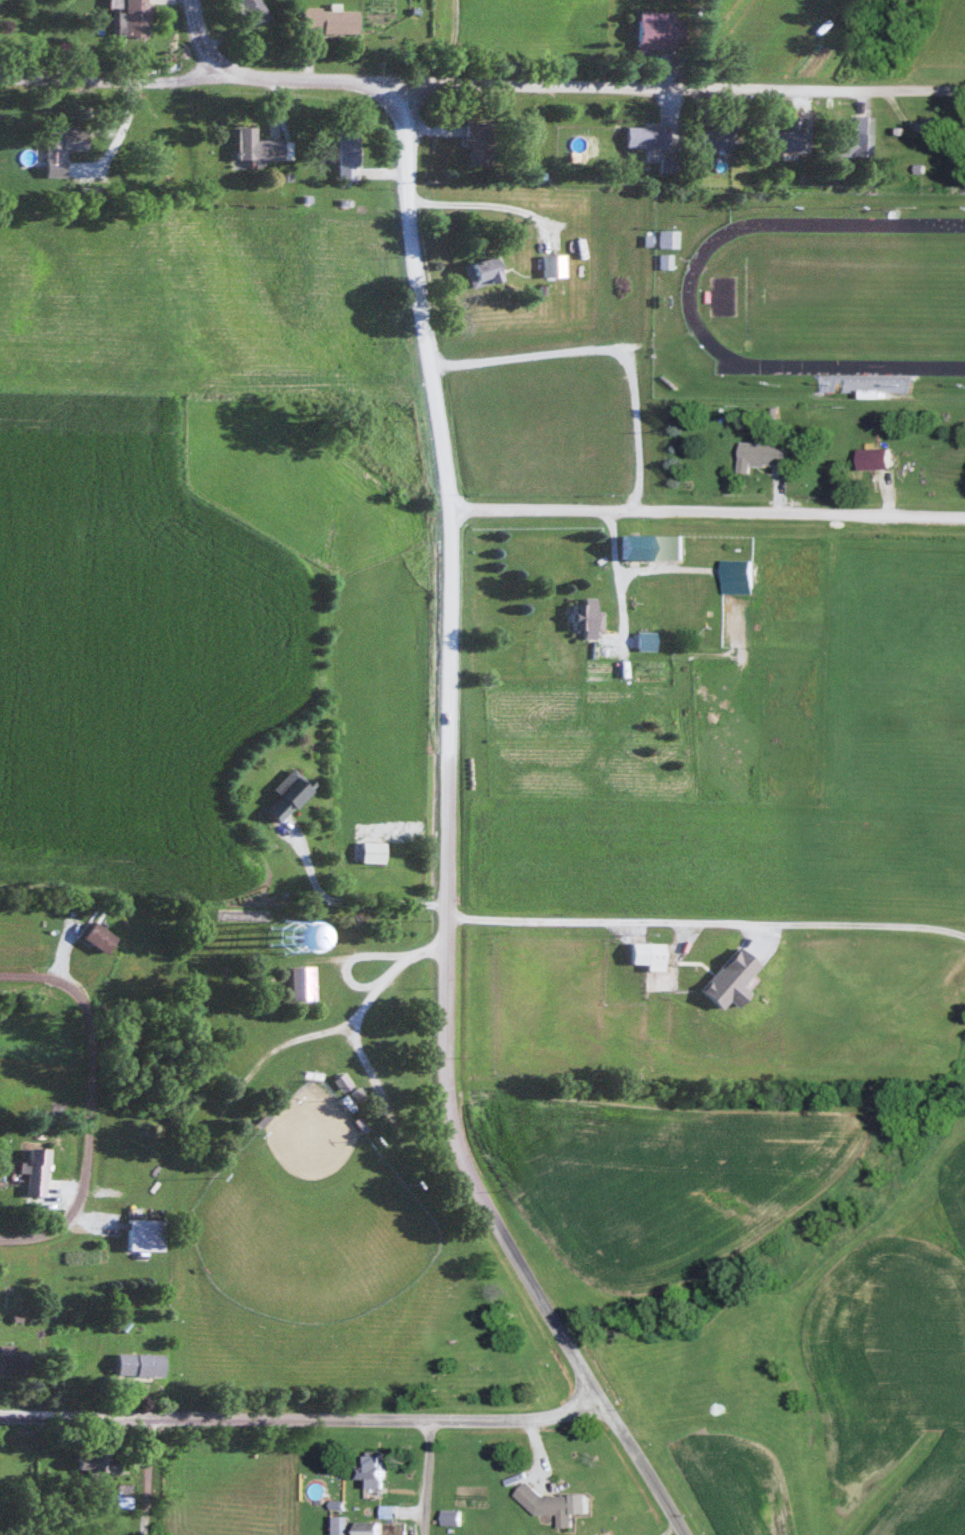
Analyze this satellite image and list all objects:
building: (255, 11)
building: (136, 18)
building: (330, 20)
building: (661, 30)
road: (196, 40)
road: (482, 81)
building: (647, 136)
building: (861, 136)
building: (574, 138)
building: (715, 139)
building: (788, 141)
building: (259, 145)
building: (61, 146)
building: (349, 155)
road: (483, 204)
building: (668, 238)
building: (553, 265)
building: (484, 271)
track: (688, 299)
road: (610, 345)
building: (878, 385)
building: (765, 456)
building: (879, 460)
road: (705, 516)
building: (654, 547)
building: (740, 578)
building: (589, 617)
building: (647, 641)
building: (287, 795)
road: (445, 836)
building: (373, 850)
building: (98, 937)
building: (655, 956)
building: (340, 1082)
road: (85, 1096)
park: (321, 1170)
building: (35, 1171)
park: (307, 1215)
building: (146, 1234)
building: (13, 1360)
building: (140, 1364)
road: (297, 1408)
building: (98, 1460)
building: (379, 1469)
road: (144, 1471)
road: (425, 1471)
building: (560, 1504)
building: (455, 1517)
building: (337, 1525)
building: (376, 1527)

